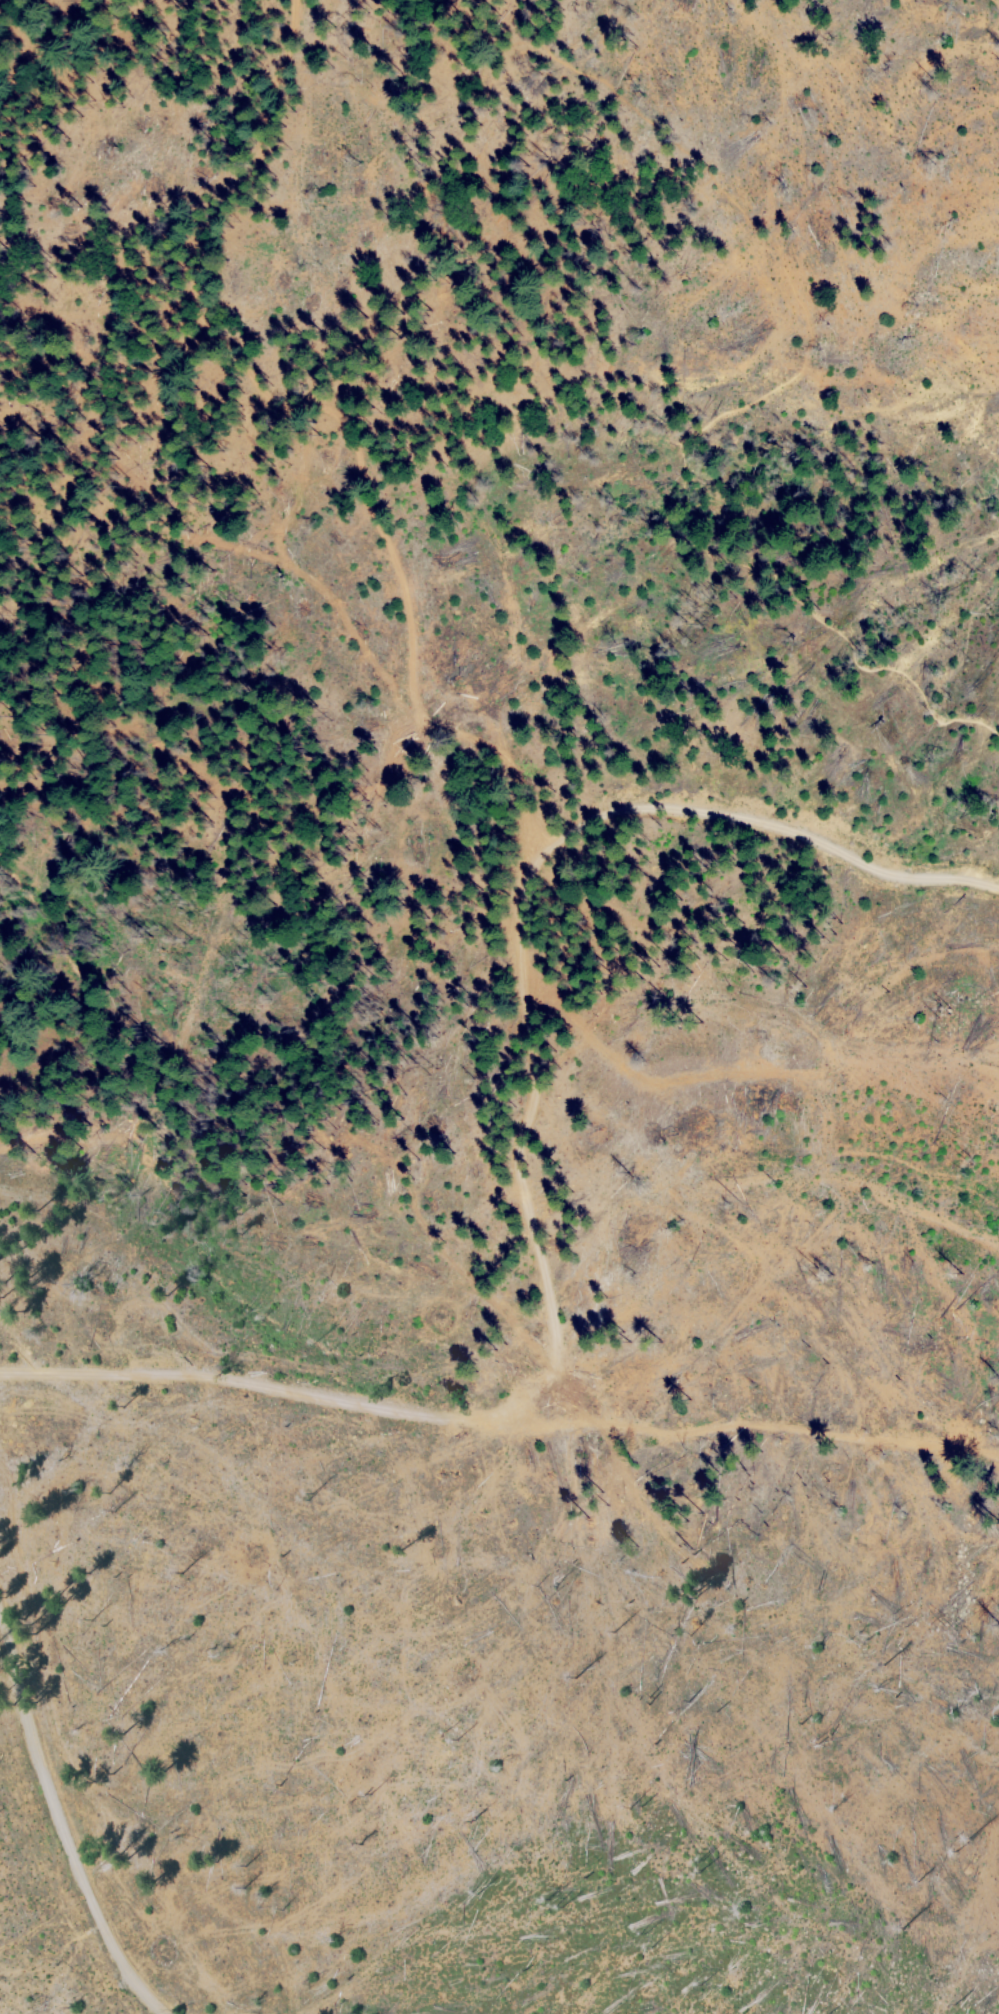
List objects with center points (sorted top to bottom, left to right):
road: (773, 391)
road: (331, 417)
road: (143, 1009)
road: (526, 1158)
road: (203, 1708)
road: (69, 1828)

